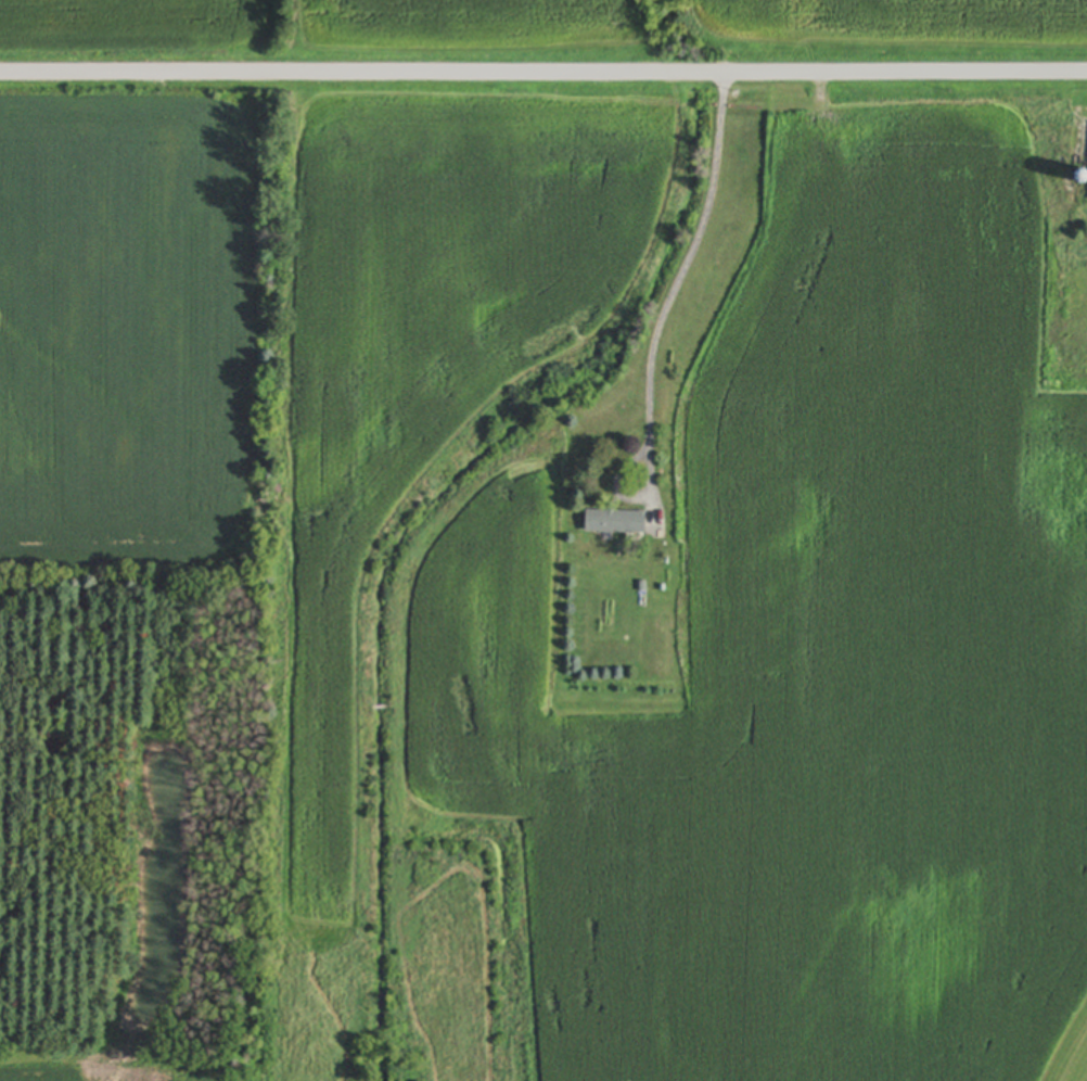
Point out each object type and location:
road: (543, 75)
road: (677, 281)
building: (613, 525)

